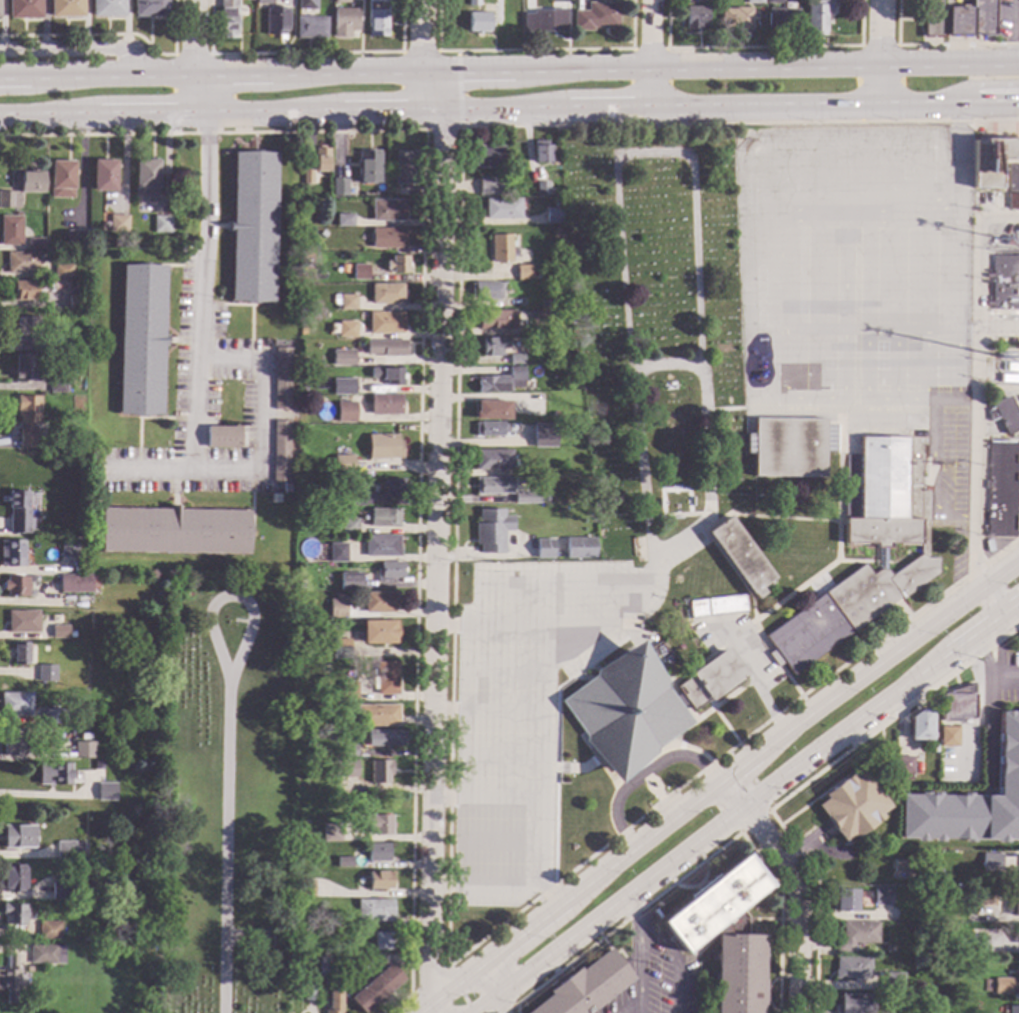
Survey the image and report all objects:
building: (376, 0)
building: (340, 1)
building: (754, 1)
building: (774, 1)
building: (264, 2)
building: (472, 2)
building: (306, 4)
building: (149, 7)
building: (65, 8)
building: (107, 8)
building: (22, 9)
building: (595, 16)
road: (1015, 16)
building: (228, 17)
building: (816, 17)
building: (931, 17)
building: (694, 18)
building: (735, 18)
building: (781, 19)
building: (972, 19)
building: (276, 21)
building: (344, 21)
building: (544, 21)
building: (376, 22)
building: (477, 22)
road: (126, 24)
building: (310, 27)
road: (1012, 31)
road: (419, 35)
road: (934, 44)
road: (762, 46)
road: (80, 47)
road: (648, 48)
road: (532, 49)
road: (418, 51)
road: (303, 52)
road: (650, 56)
road: (877, 56)
road: (192, 58)
road: (127, 60)
road: (858, 65)
road: (509, 68)
road: (172, 74)
road: (458, 88)
road: (509, 114)
road: (441, 128)
road: (959, 138)
building: (543, 152)
building: (488, 156)
building: (321, 160)
building: (991, 160)
building: (368, 167)
building: (405, 168)
building: (388, 173)
building: (104, 176)
building: (307, 177)
building: (146, 178)
building: (62, 180)
building: (32, 182)
building: (1013, 186)
building: (489, 187)
building: (338, 188)
building: (543, 189)
building: (9, 199)
building: (556, 202)
building: (503, 209)
building: (388, 211)
building: (18, 213)
road: (915, 214)
building: (552, 215)
road: (809, 217)
building: (344, 220)
building: (118, 223)
building: (162, 225)
building: (253, 227)
building: (11, 231)
building: (322, 234)
building: (386, 238)
building: (76, 239)
building: (1011, 241)
building: (35, 243)
building: (502, 248)
road: (960, 259)
building: (22, 263)
building: (397, 264)
road: (171, 265)
building: (344, 268)
road: (694, 270)
building: (63, 271)
building: (360, 272)
building: (524, 272)
building: (1005, 283)
building: (24, 291)
building: (486, 291)
building: (386, 294)
building: (343, 301)
building: (76, 303)
building: (545, 304)
road: (235, 305)
road: (841, 309)
road: (854, 312)
road: (998, 313)
building: (496, 320)
building: (540, 322)
building: (385, 323)
building: (26, 329)
building: (346, 329)
road: (973, 331)
road: (998, 331)
road: (961, 333)
road: (876, 334)
road: (196, 335)
road: (779, 339)
building: (141, 340)
building: (494, 347)
building: (385, 348)
road: (249, 349)
road: (998, 350)
building: (343, 358)
building: (516, 359)
building: (304, 362)
road: (664, 363)
road: (420, 365)
road: (953, 366)
building: (25, 368)
building: (387, 375)
road: (998, 377)
building: (281, 379)
building: (501, 382)
building: (57, 384)
road: (977, 384)
building: (343, 387)
road: (926, 394)
road: (907, 397)
parking lot: (204, 403)
road: (965, 403)
building: (385, 405)
road: (859, 408)
road: (722, 409)
building: (492, 411)
building: (345, 412)
building: (555, 415)
building: (1004, 415)
road: (139, 418)
road: (257, 418)
building: (28, 419)
building: (490, 429)
building: (544, 435)
building: (222, 437)
building: (383, 447)
building: (790, 447)
building: (280, 451)
building: (493, 459)
building: (343, 464)
parking lot: (947, 465)
road: (933, 475)
road: (839, 484)
building: (493, 486)
building: (394, 488)
building: (1001, 489)
road: (673, 490)
parking lot: (1017, 494)
building: (355, 497)
building: (274, 498)
building: (526, 498)
building: (544, 498)
road: (251, 503)
building: (19, 512)
road: (740, 514)
building: (384, 518)
road: (953, 522)
building: (349, 527)
building: (173, 530)
building: (490, 531)
road: (434, 541)
building: (381, 546)
building: (578, 548)
building: (68, 549)
building: (542, 549)
building: (337, 552)
building: (14, 554)
building: (740, 556)
building: (921, 557)
road: (830, 565)
building: (390, 571)
building: (349, 581)
building: (76, 583)
building: (95, 585)
building: (15, 586)
building: (305, 587)
road: (229, 596)
building: (379, 602)
building: (715, 607)
road: (988, 607)
building: (337, 608)
road: (902, 609)
road: (753, 613)
building: (24, 622)
road: (451, 624)
road: (549, 625)
building: (60, 631)
building: (379, 632)
road: (636, 633)
road: (737, 633)
building: (72, 634)
building: (339, 645)
parking lot: (738, 646)
building: (20, 654)
road: (696, 665)
road: (509, 666)
road: (874, 667)
road: (997, 669)
building: (47, 674)
road: (1007, 674)
road: (584, 677)
building: (386, 678)
road: (753, 678)
road: (671, 684)
building: (348, 691)
road: (546, 701)
building: (16, 704)
building: (958, 704)
parking lot: (526, 706)
building: (641, 707)
road: (883, 709)
road: (712, 710)
road: (447, 713)
road: (504, 714)
building: (377, 715)
building: (55, 716)
building: (76, 721)
road: (988, 724)
road: (726, 726)
building: (921, 726)
building: (949, 737)
building: (385, 738)
road: (555, 738)
building: (13, 742)
building: (85, 750)
building: (349, 751)
road: (462, 756)
road: (504, 756)
building: (104, 765)
road: (582, 766)
building: (905, 767)
building: (341, 768)
building: (380, 772)
road: (634, 772)
road: (642, 773)
road: (643, 773)
building: (57, 774)
road: (646, 778)
road: (806, 782)
building: (107, 792)
park: (223, 795)
road: (759, 795)
road: (446, 799)
road: (503, 799)
building: (971, 802)
building: (853, 806)
building: (378, 825)
building: (331, 833)
building: (18, 837)
road: (503, 841)
road: (224, 843)
building: (81, 850)
building: (66, 851)
building: (377, 853)
building: (990, 859)
building: (344, 861)
road: (700, 862)
building: (900, 866)
building: (133, 871)
road: (602, 873)
building: (13, 879)
building: (380, 881)
road: (698, 883)
road: (487, 886)
road: (796, 886)
building: (305, 888)
building: (68, 891)
building: (918, 891)
road: (372, 894)
road: (550, 895)
building: (882, 897)
building: (985, 897)
building: (846, 901)
road: (623, 904)
building: (1015, 904)
building: (374, 911)
road: (635, 913)
building: (14, 914)
building: (893, 916)
building: (50, 930)
road: (649, 930)
building: (725, 935)
building: (857, 935)
building: (1018, 935)
building: (278, 941)
building: (382, 941)
building: (979, 943)
building: (889, 949)
road: (696, 952)
building: (45, 954)
building: (323, 965)
building: (852, 968)
building: (1018, 974)
building: (10, 980)
road: (427, 980)
parking lot: (656, 980)
building: (894, 983)
building: (988, 984)
road: (452, 985)
building: (1001, 986)
building: (587, 987)
building: (375, 989)
road: (457, 989)
road: (491, 989)
building: (308, 992)
building: (917, 1000)
building: (333, 1002)
building: (854, 1004)
road: (489, 1006)
road: (631, 1006)
road: (423, 1008)
road: (510, 1008)
building: (1013, 1009)

